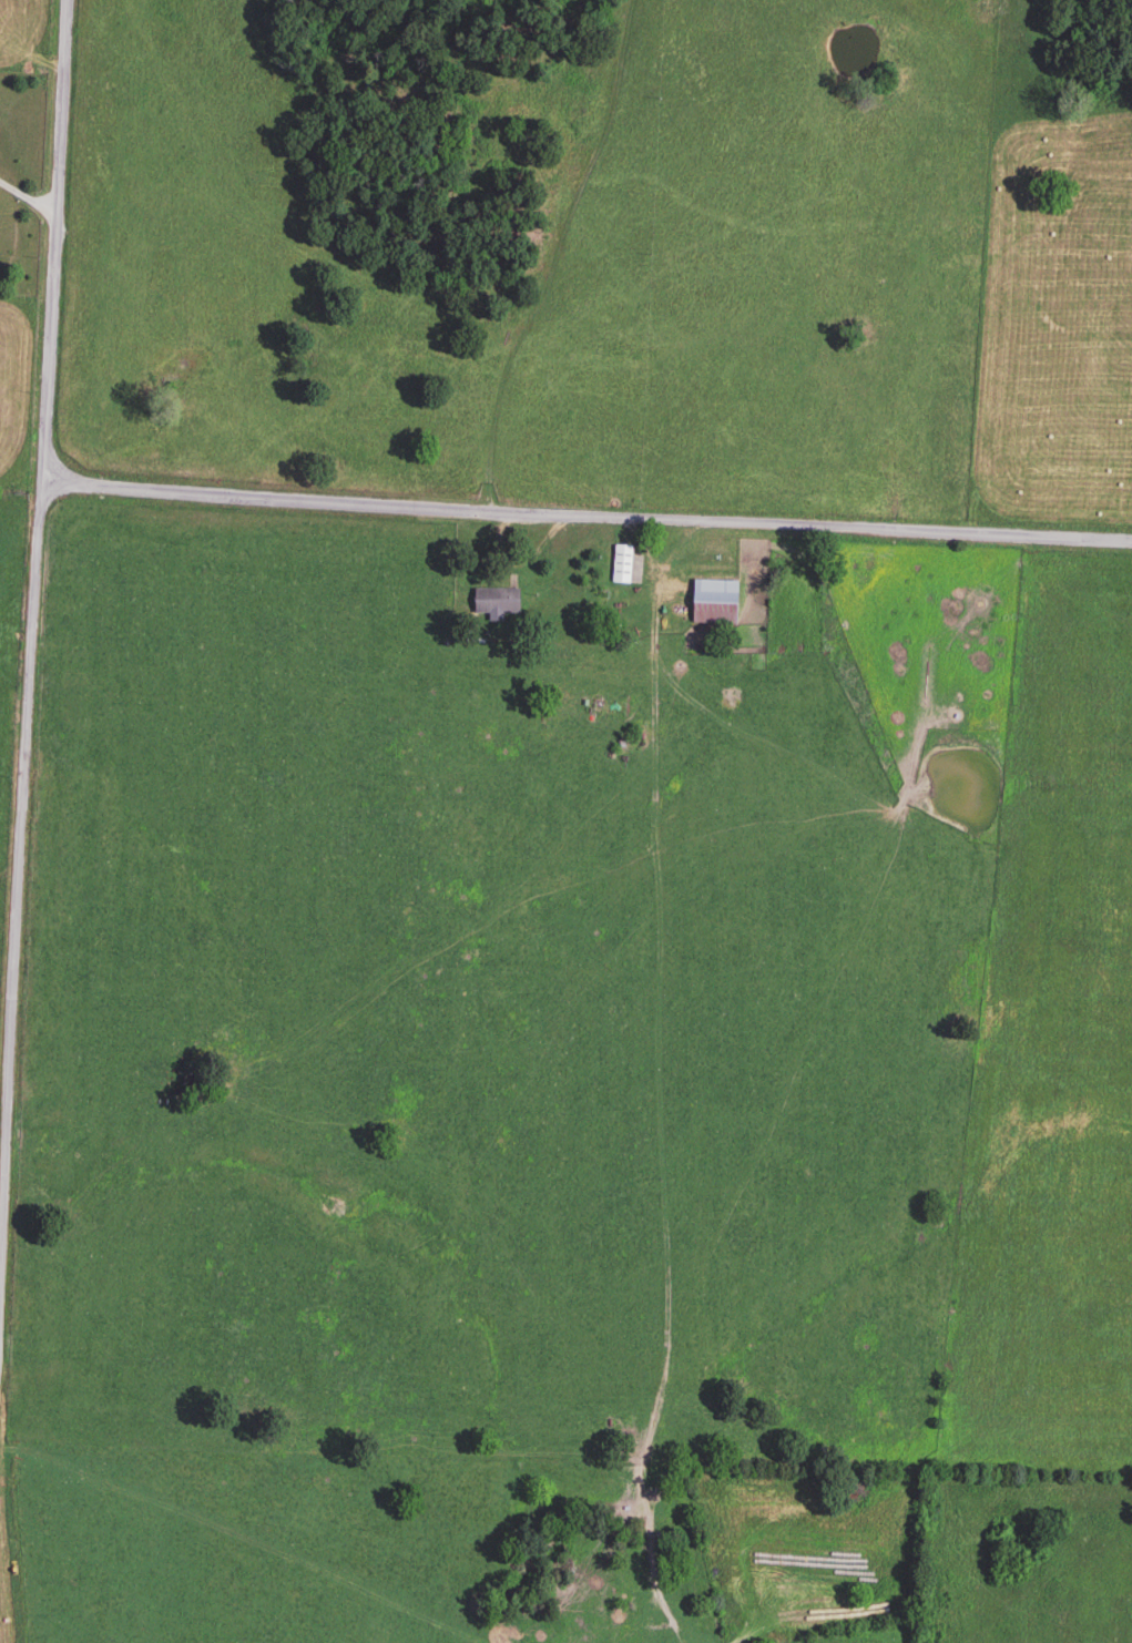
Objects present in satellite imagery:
road: (29, 197)
road: (60, 241)
road: (547, 255)
road: (589, 518)
building: (621, 567)
building: (493, 604)
building: (712, 605)
road: (21, 892)

